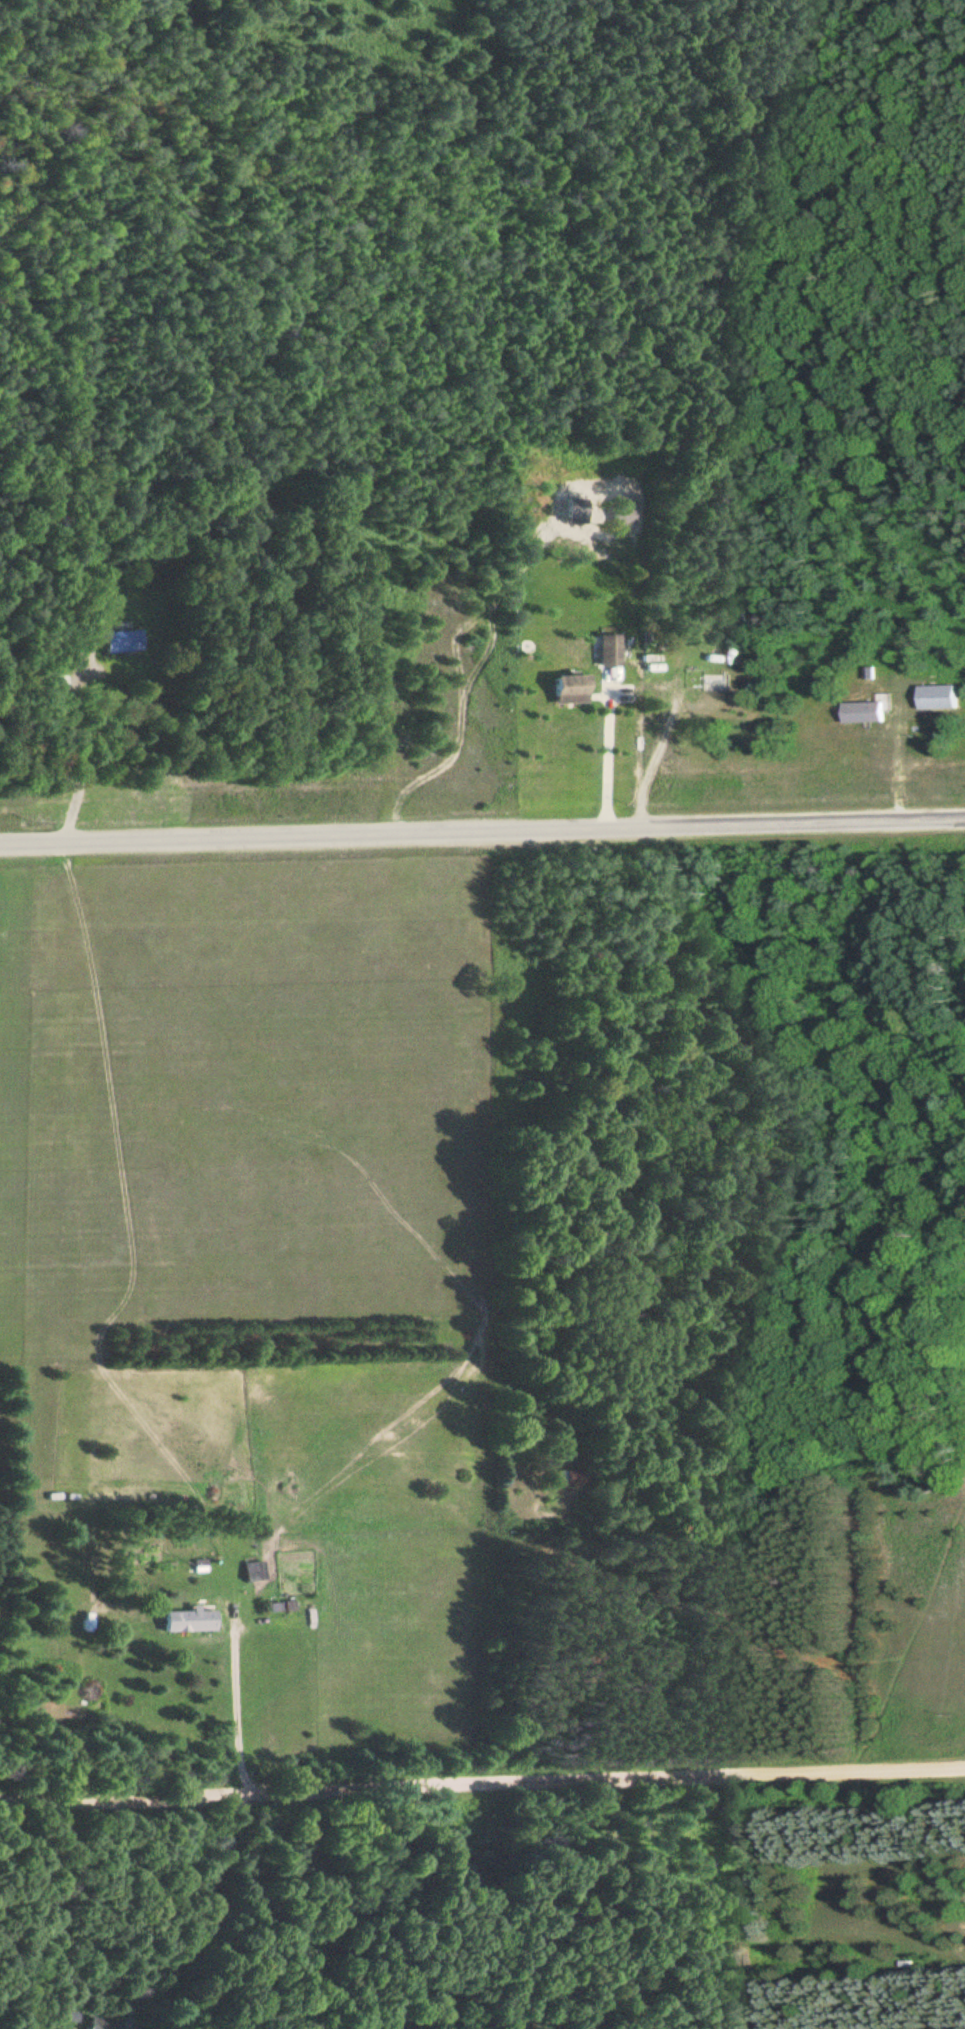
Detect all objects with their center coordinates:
building: (126, 638)
building: (612, 649)
building: (735, 659)
building: (717, 682)
building: (54, 683)
building: (572, 689)
building: (939, 696)
building: (865, 711)
road: (482, 831)
building: (574, 1477)
building: (258, 1570)
building: (193, 1620)
road: (482, 1784)
road: (166, 1893)
building: (75, 2016)
building: (107, 2024)

